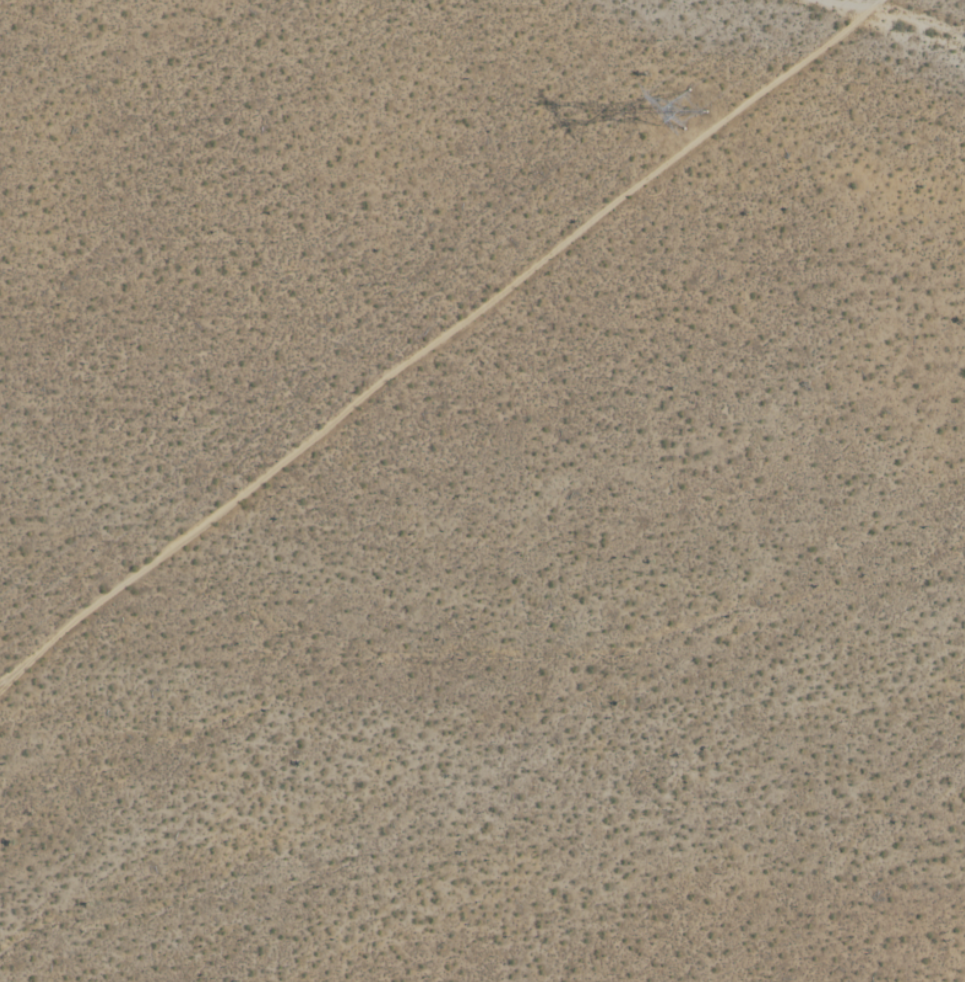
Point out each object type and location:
power tower: (690, 109)

